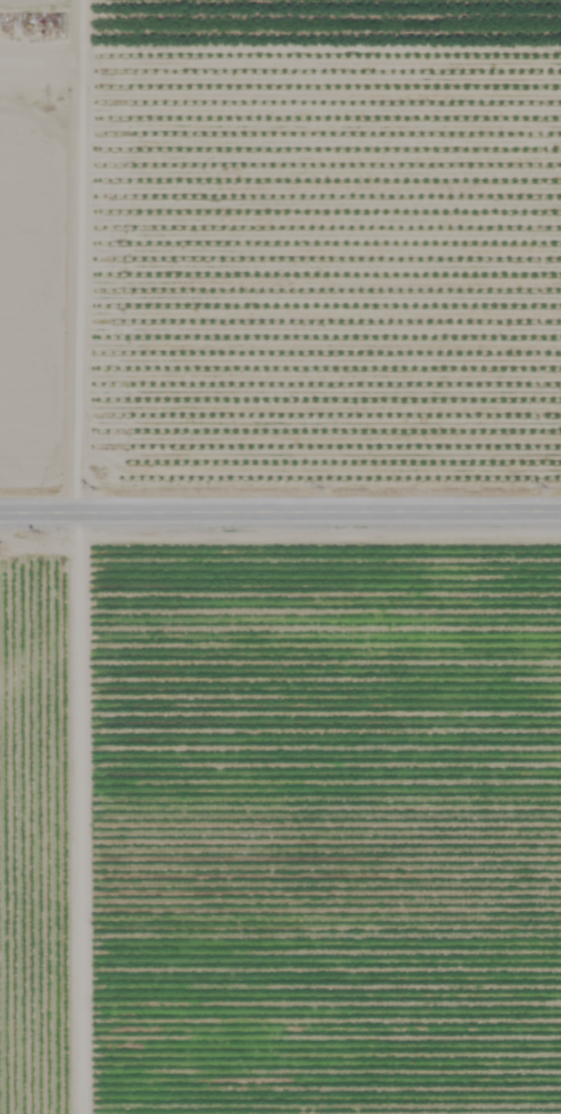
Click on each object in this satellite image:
road: (30, 59)
road: (64, 256)
road: (279, 512)

